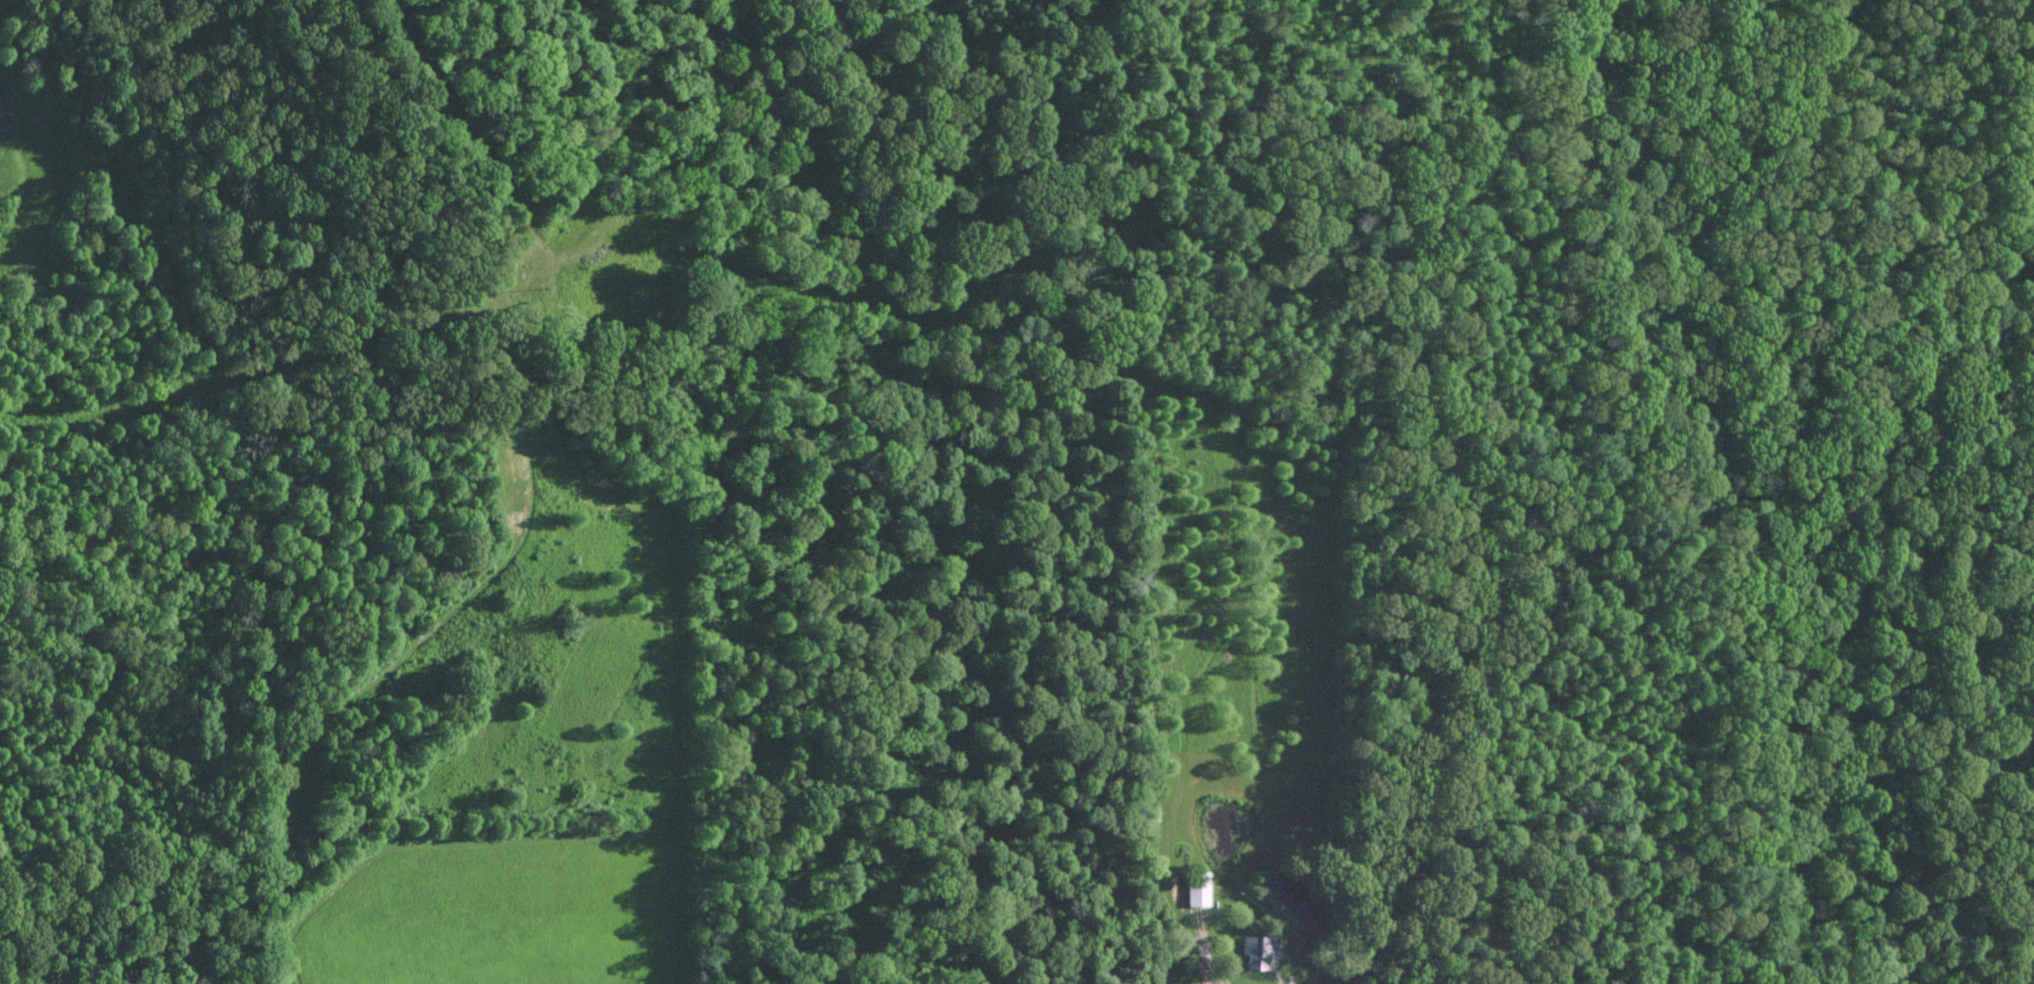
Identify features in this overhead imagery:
road: (530, 202)
building: (1194, 888)
building: (1261, 957)

